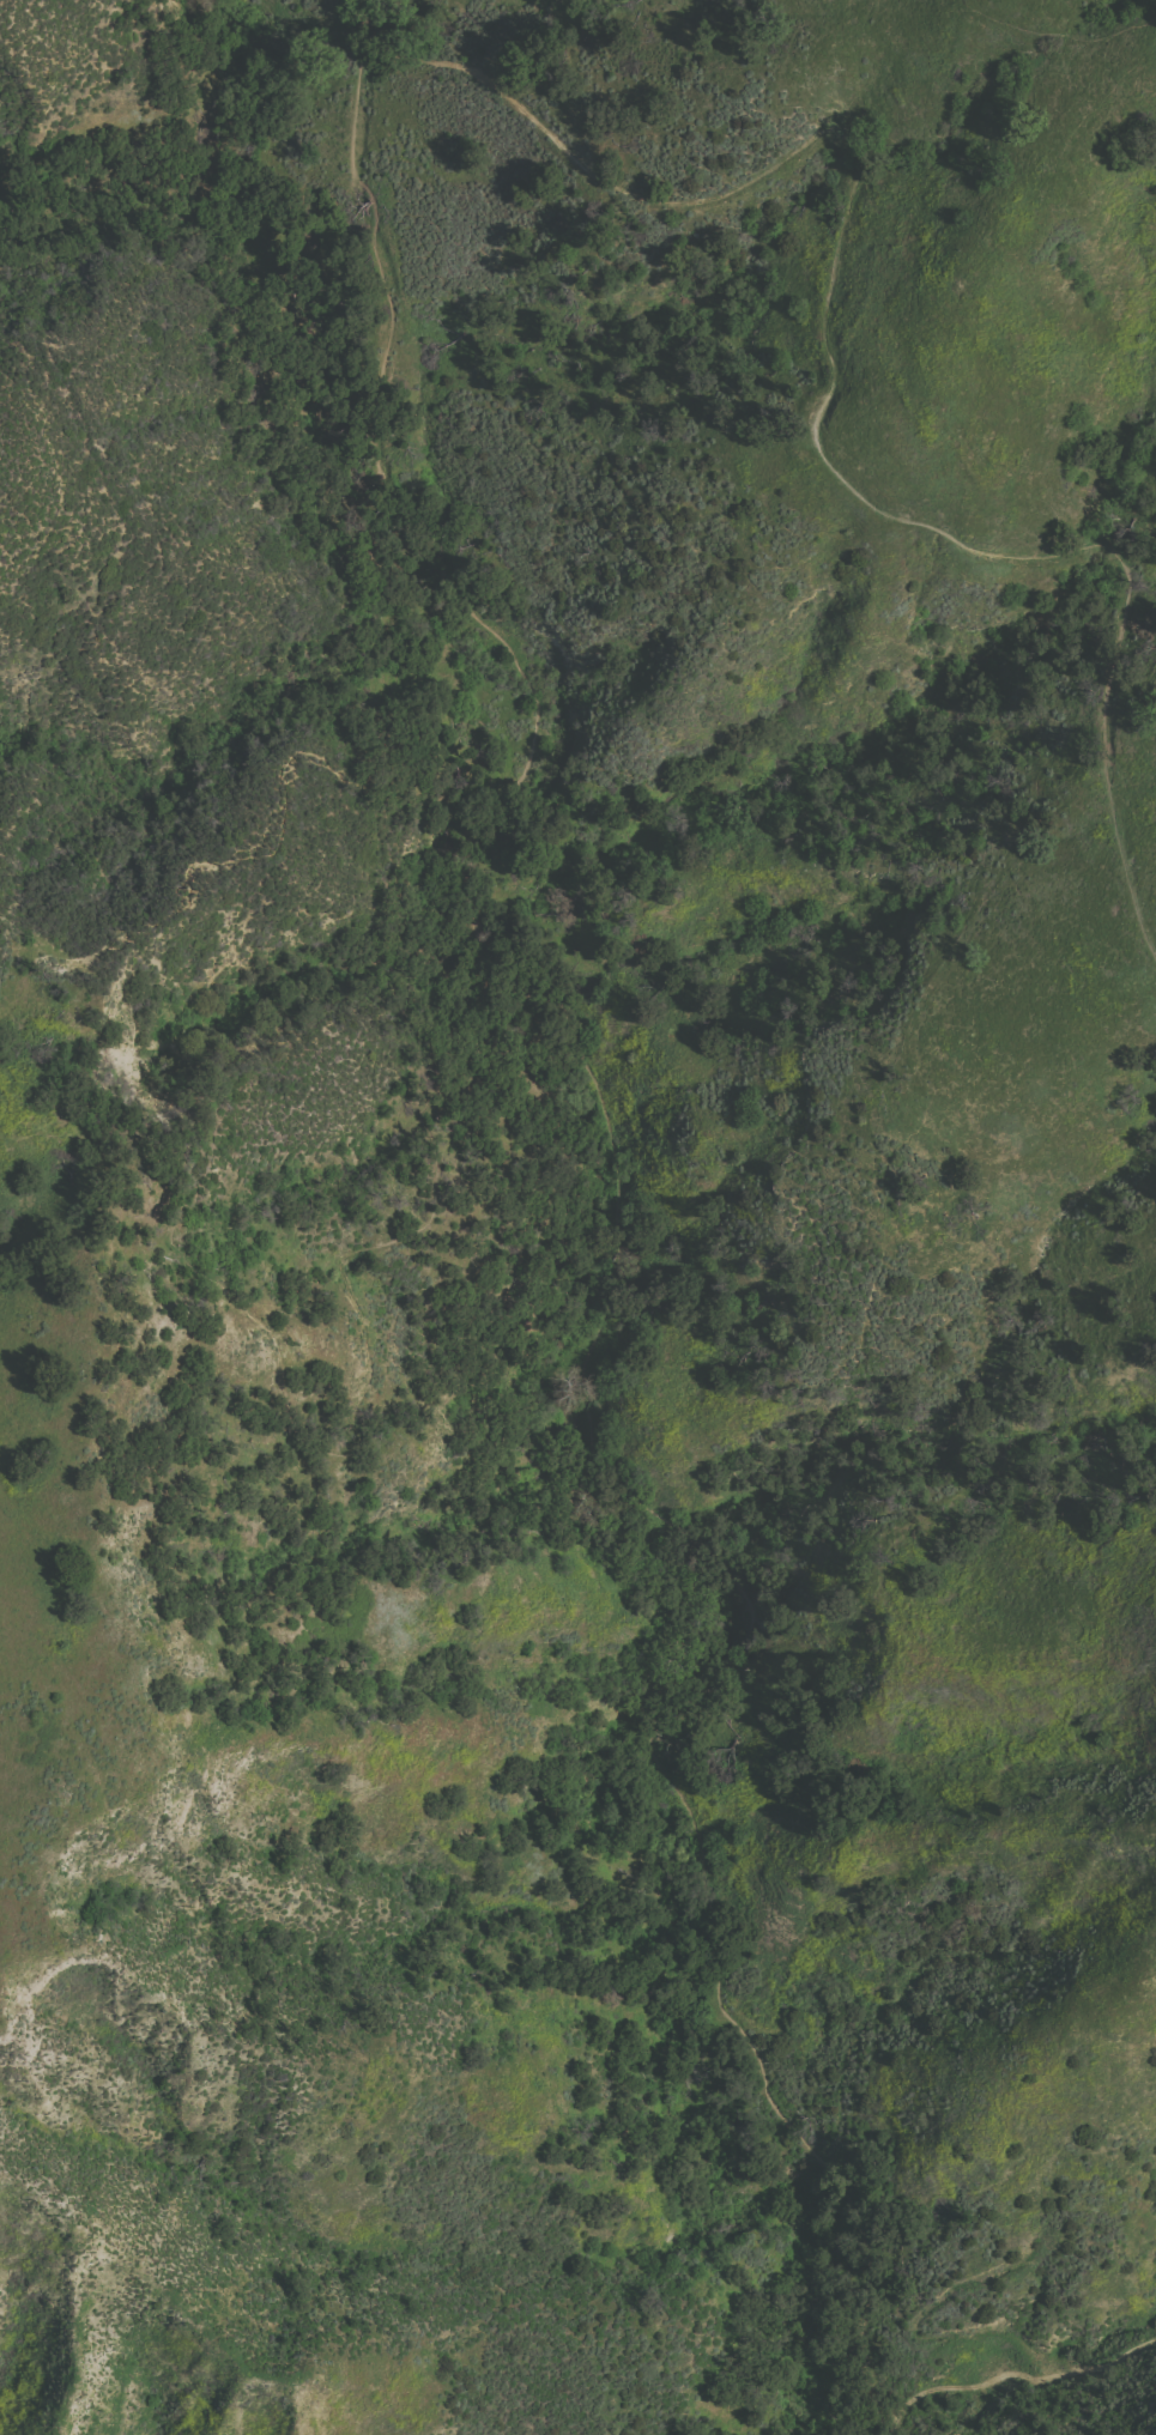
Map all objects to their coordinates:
road: (831, 370)
road: (599, 1255)
road: (271, 1337)
road: (915, 2337)
road: (1024, 2378)

